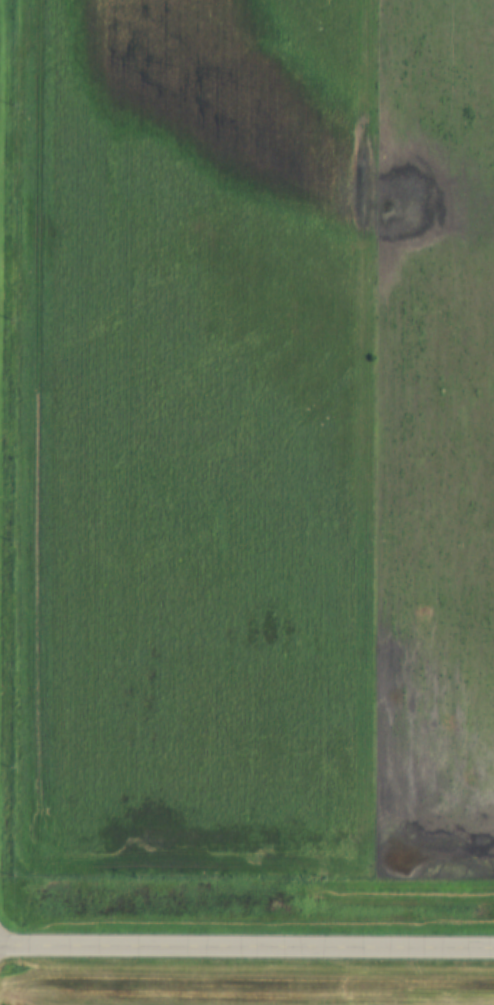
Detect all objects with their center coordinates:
road: (247, 949)

